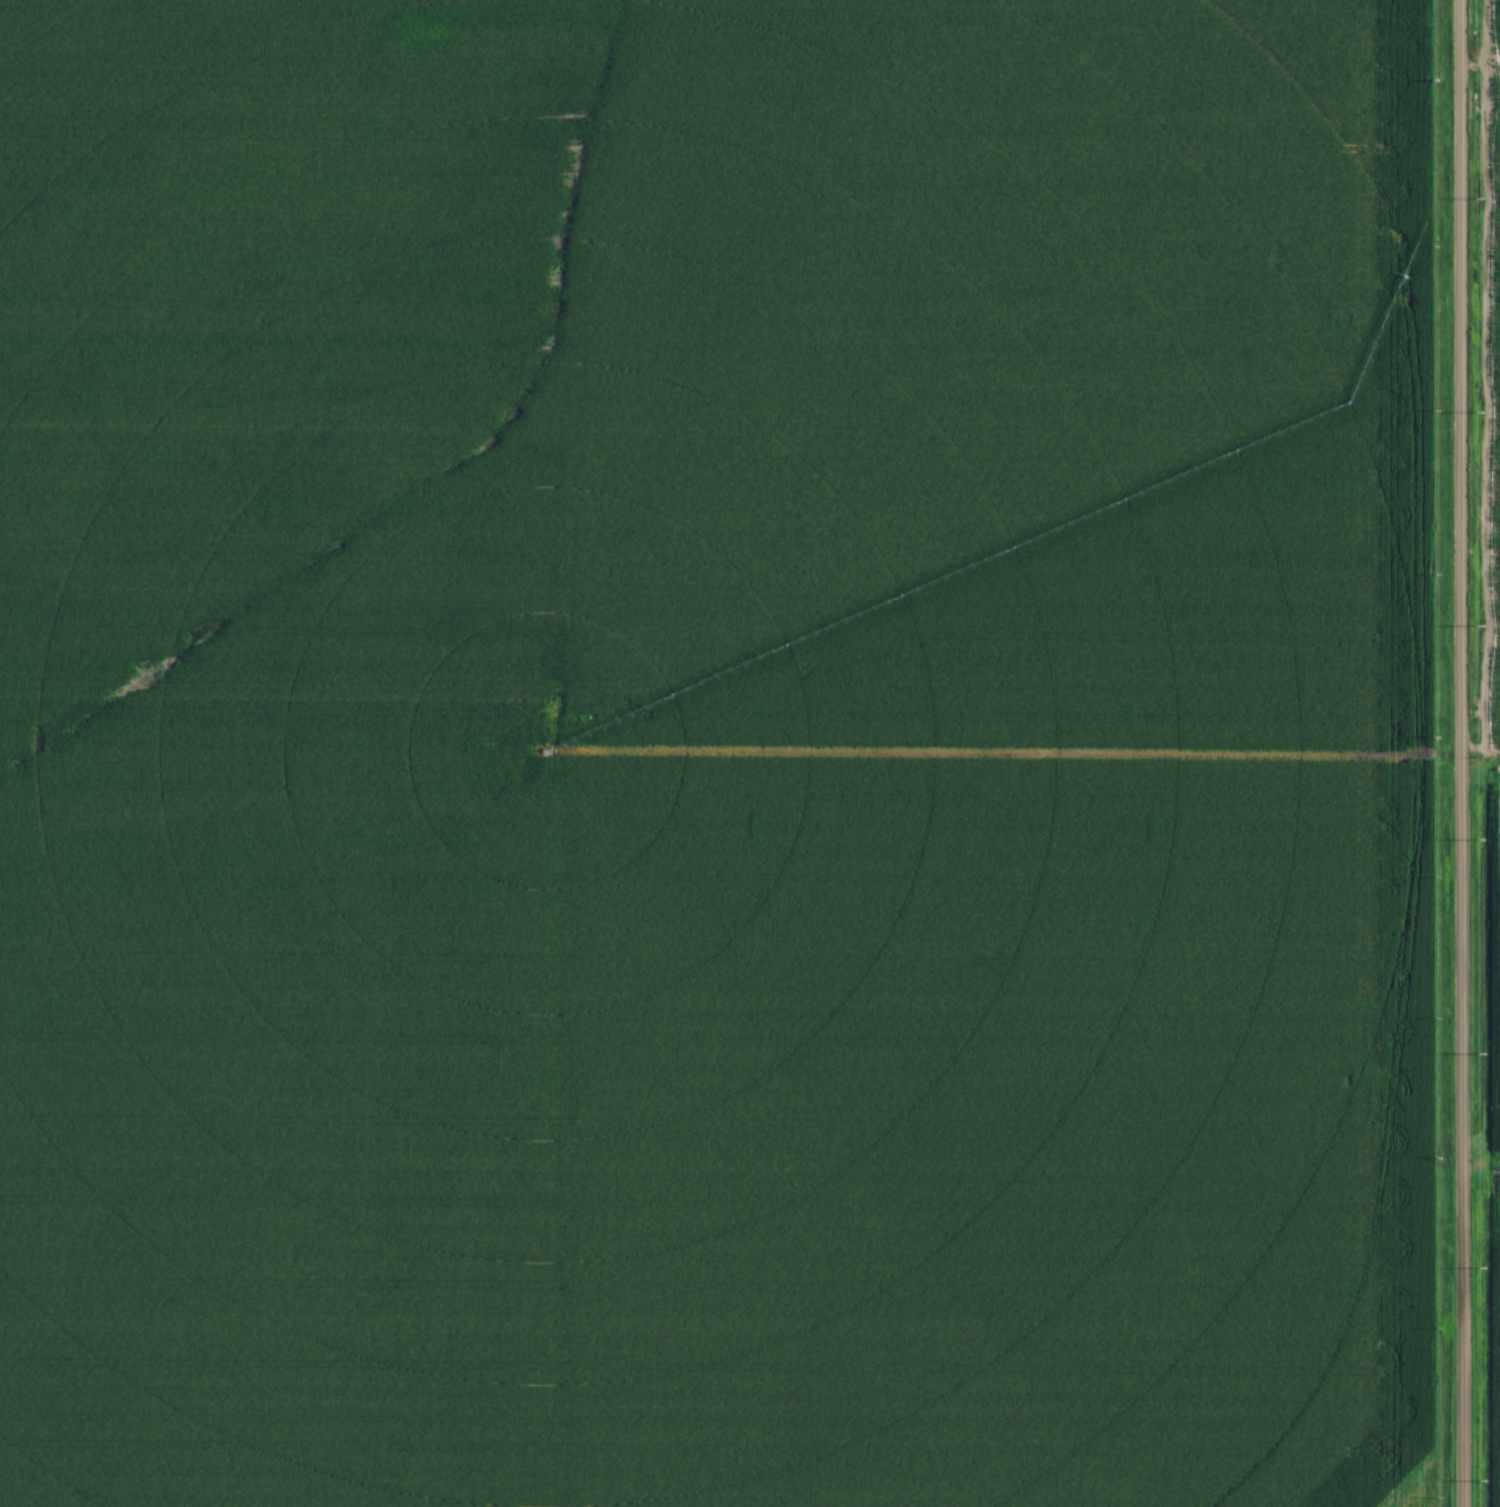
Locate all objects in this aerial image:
road: (1459, 753)

